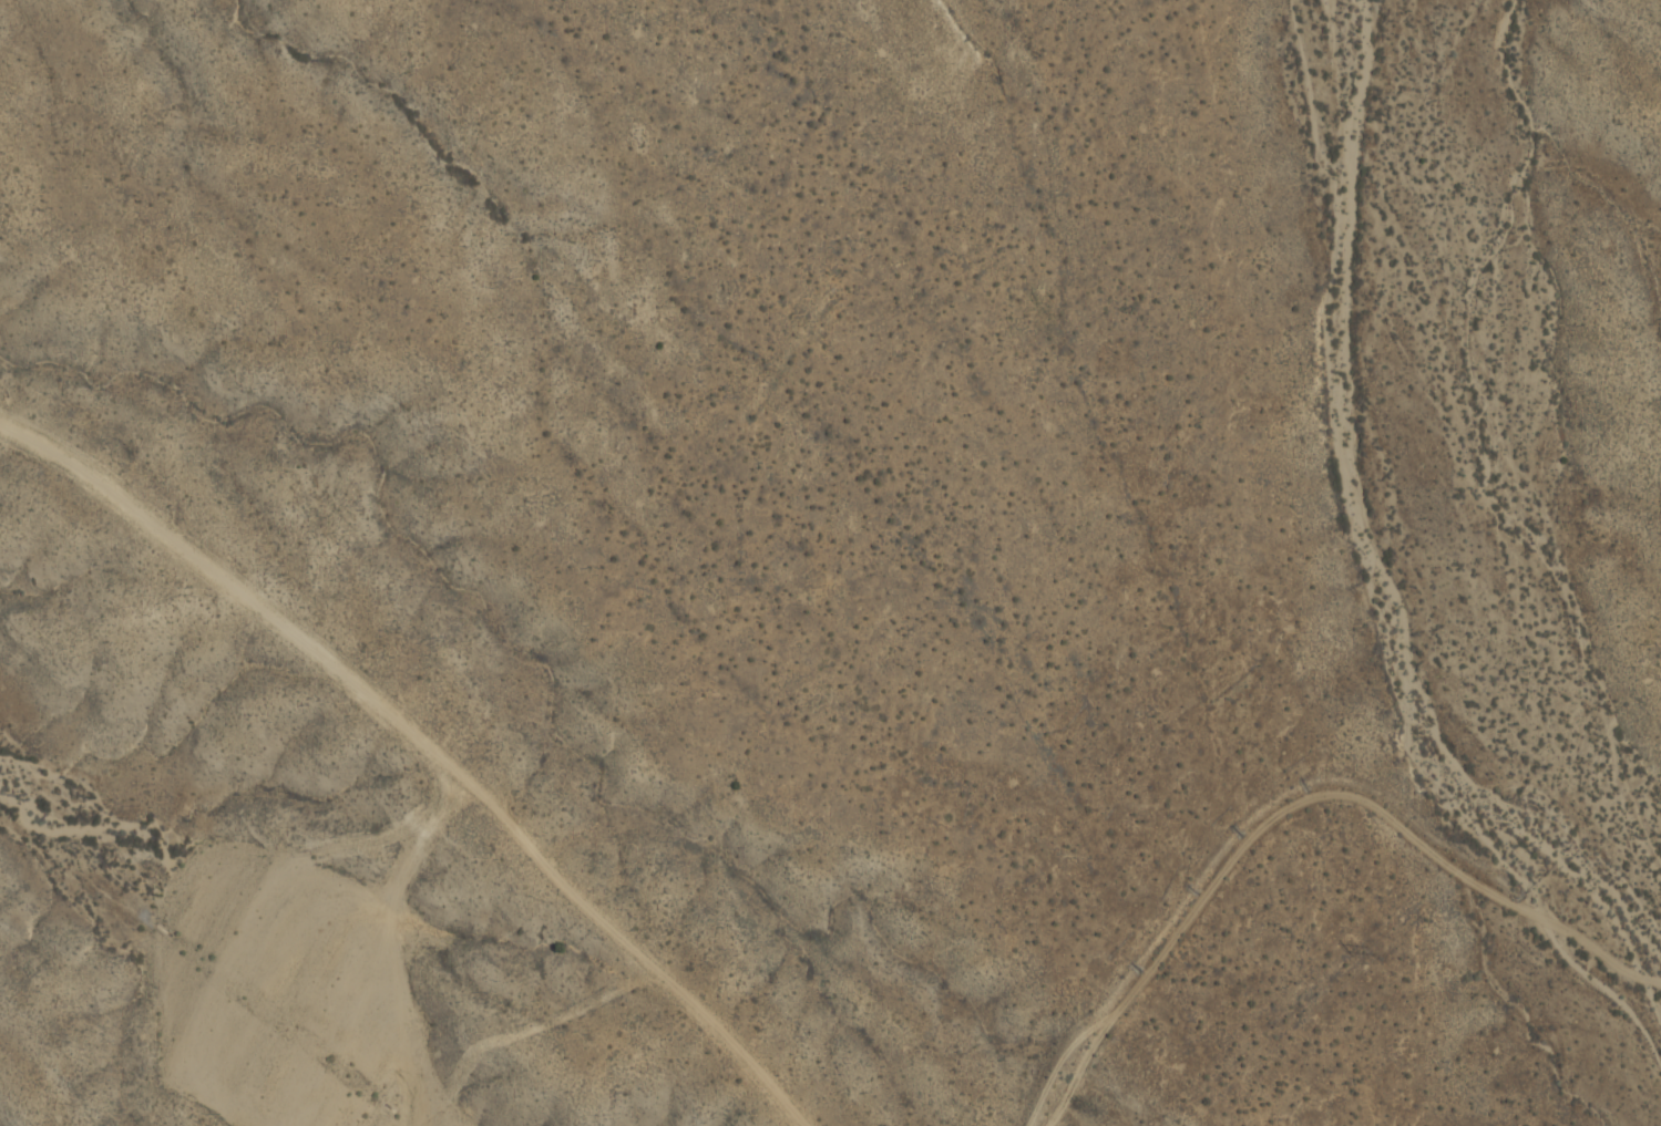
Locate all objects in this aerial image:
power tower: (1376, 960)

